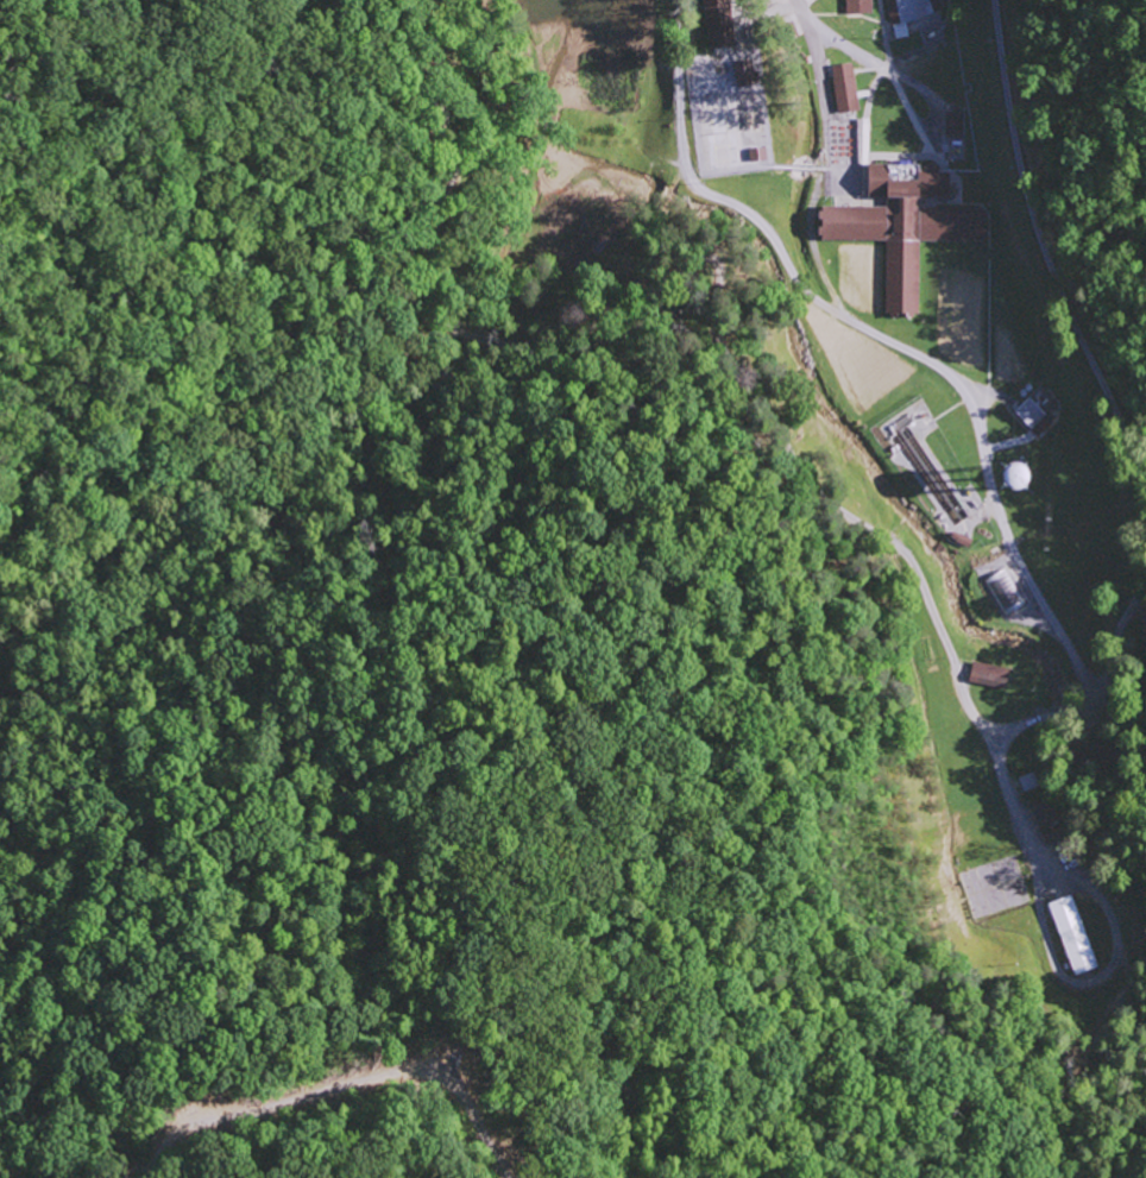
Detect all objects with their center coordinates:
building: (859, 6)
building: (912, 14)
building: (845, 87)
building: (901, 222)
road: (1087, 352)
building: (1032, 412)
building: (1031, 472)
water tower: (1007, 475)
building: (1005, 591)
building: (990, 674)
road: (1120, 738)
building: (1075, 934)

